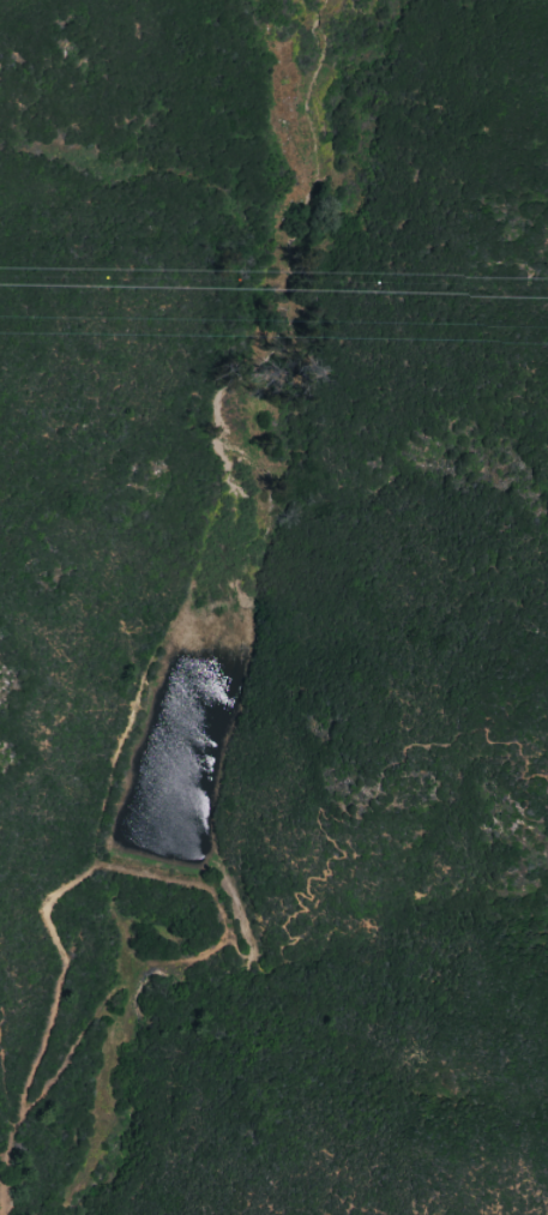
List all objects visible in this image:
road: (258, 967)
road: (0, 1202)

